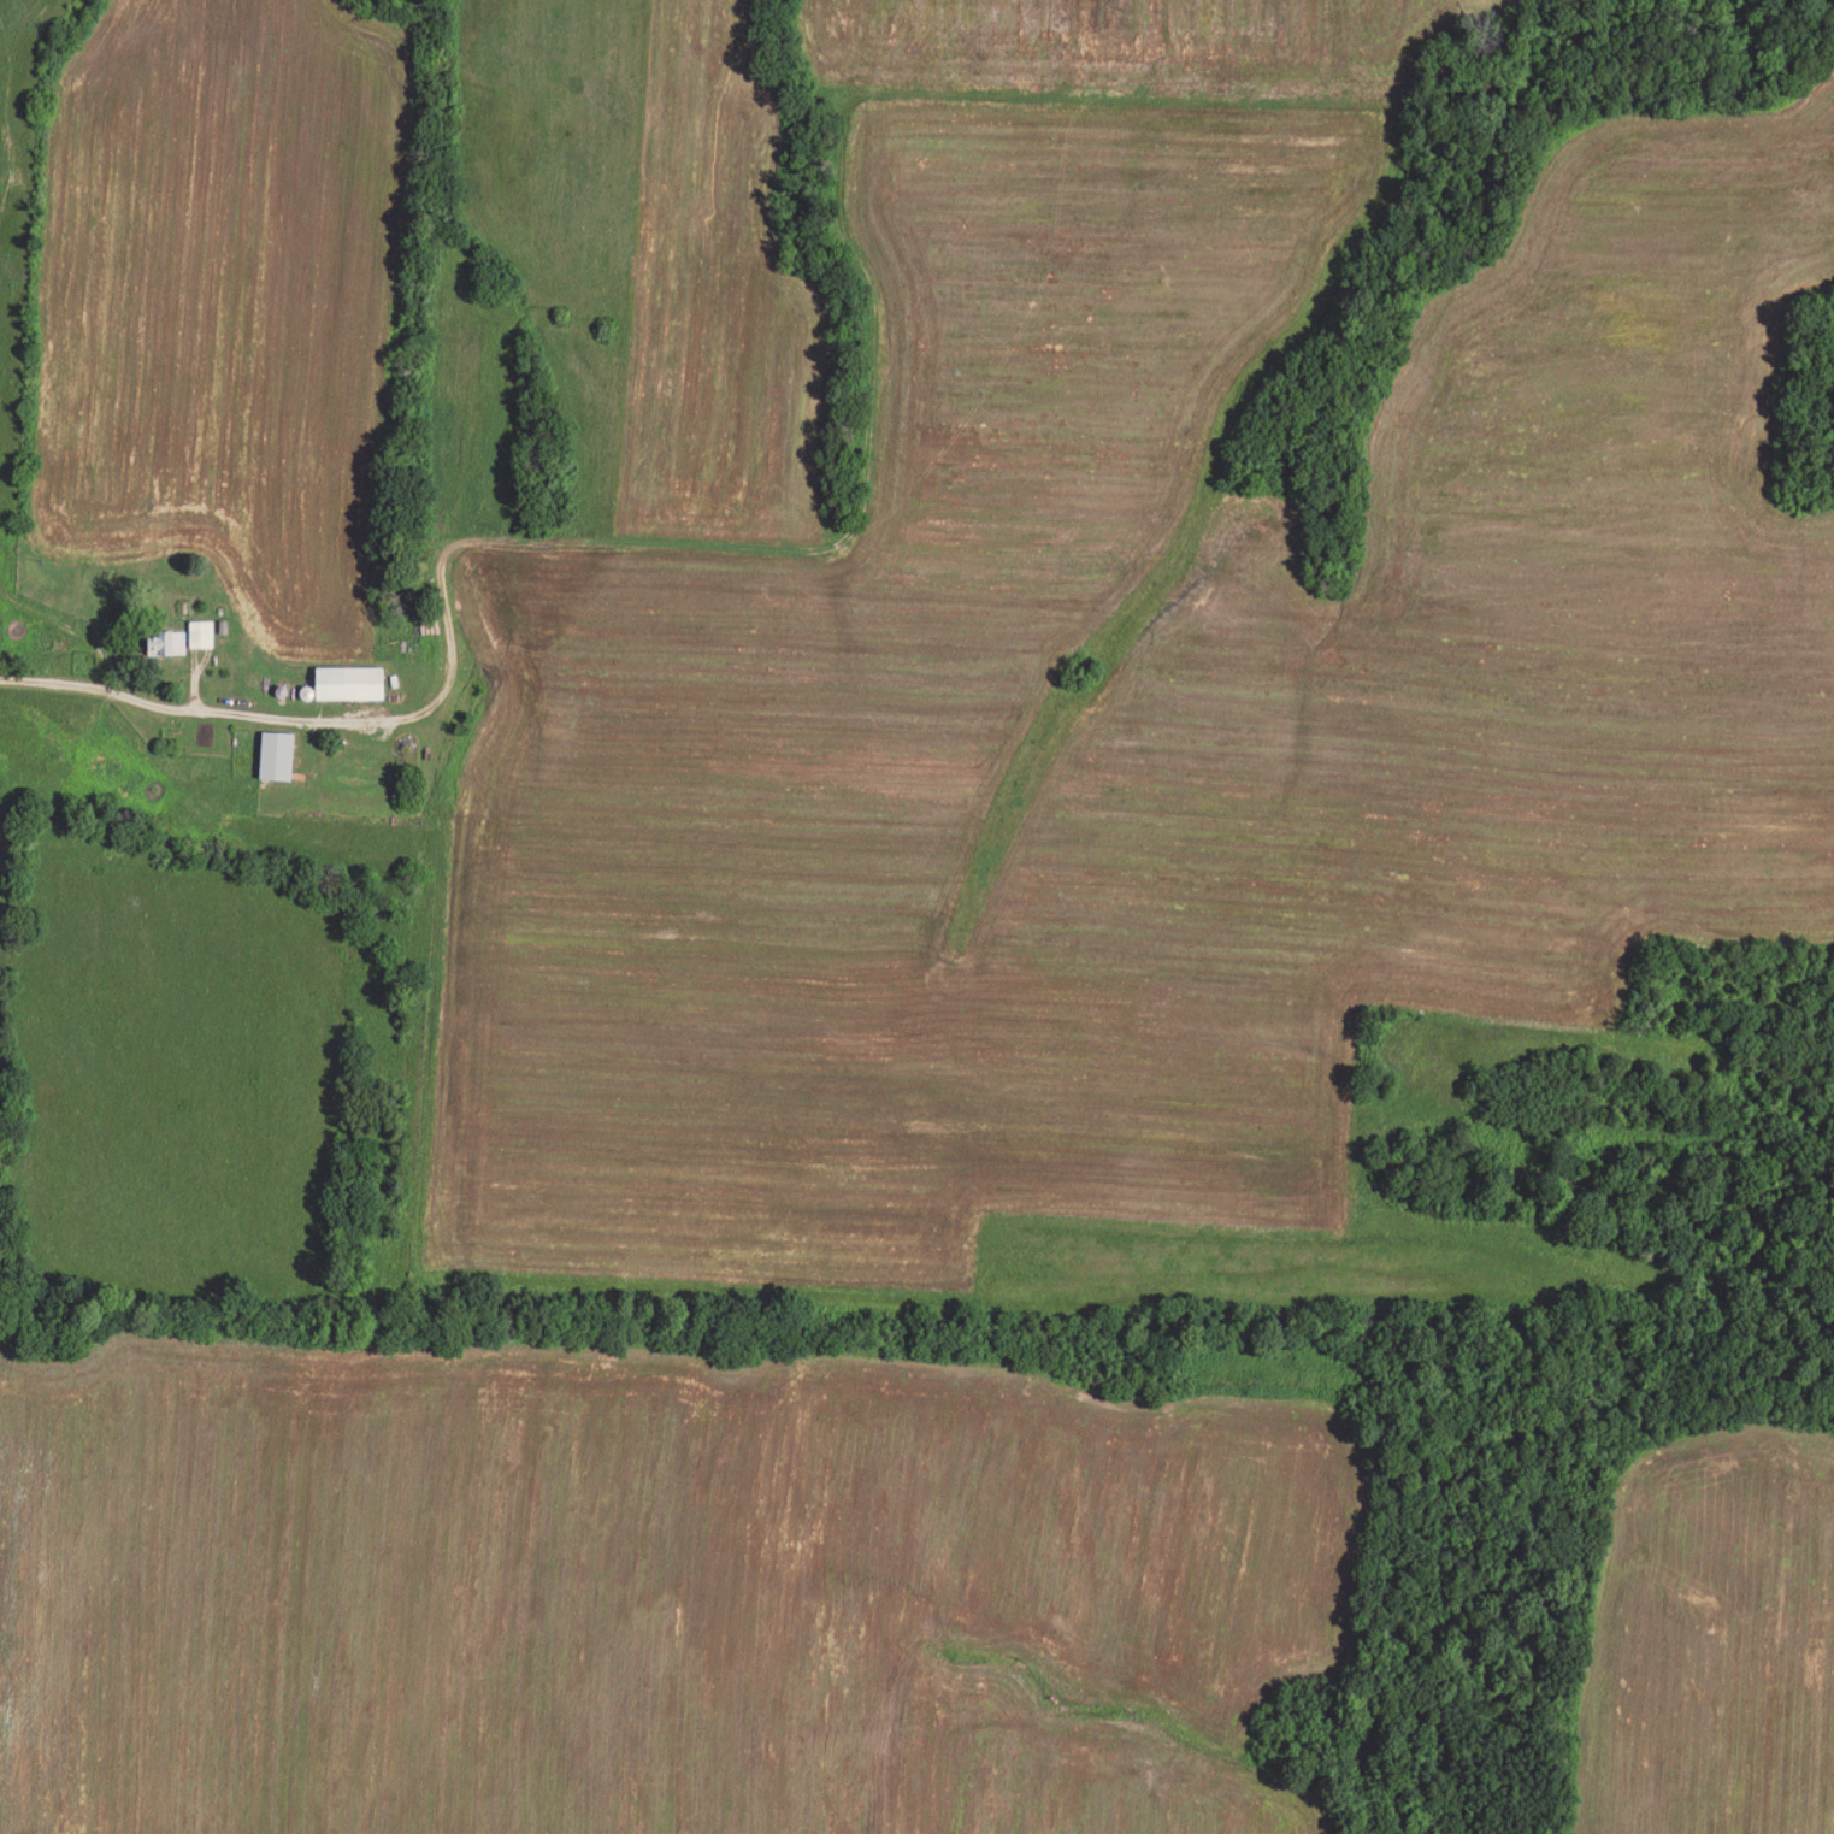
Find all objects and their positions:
building: (202, 631)
building: (167, 641)
building: (354, 680)
road: (114, 692)
road: (283, 721)
building: (279, 753)

